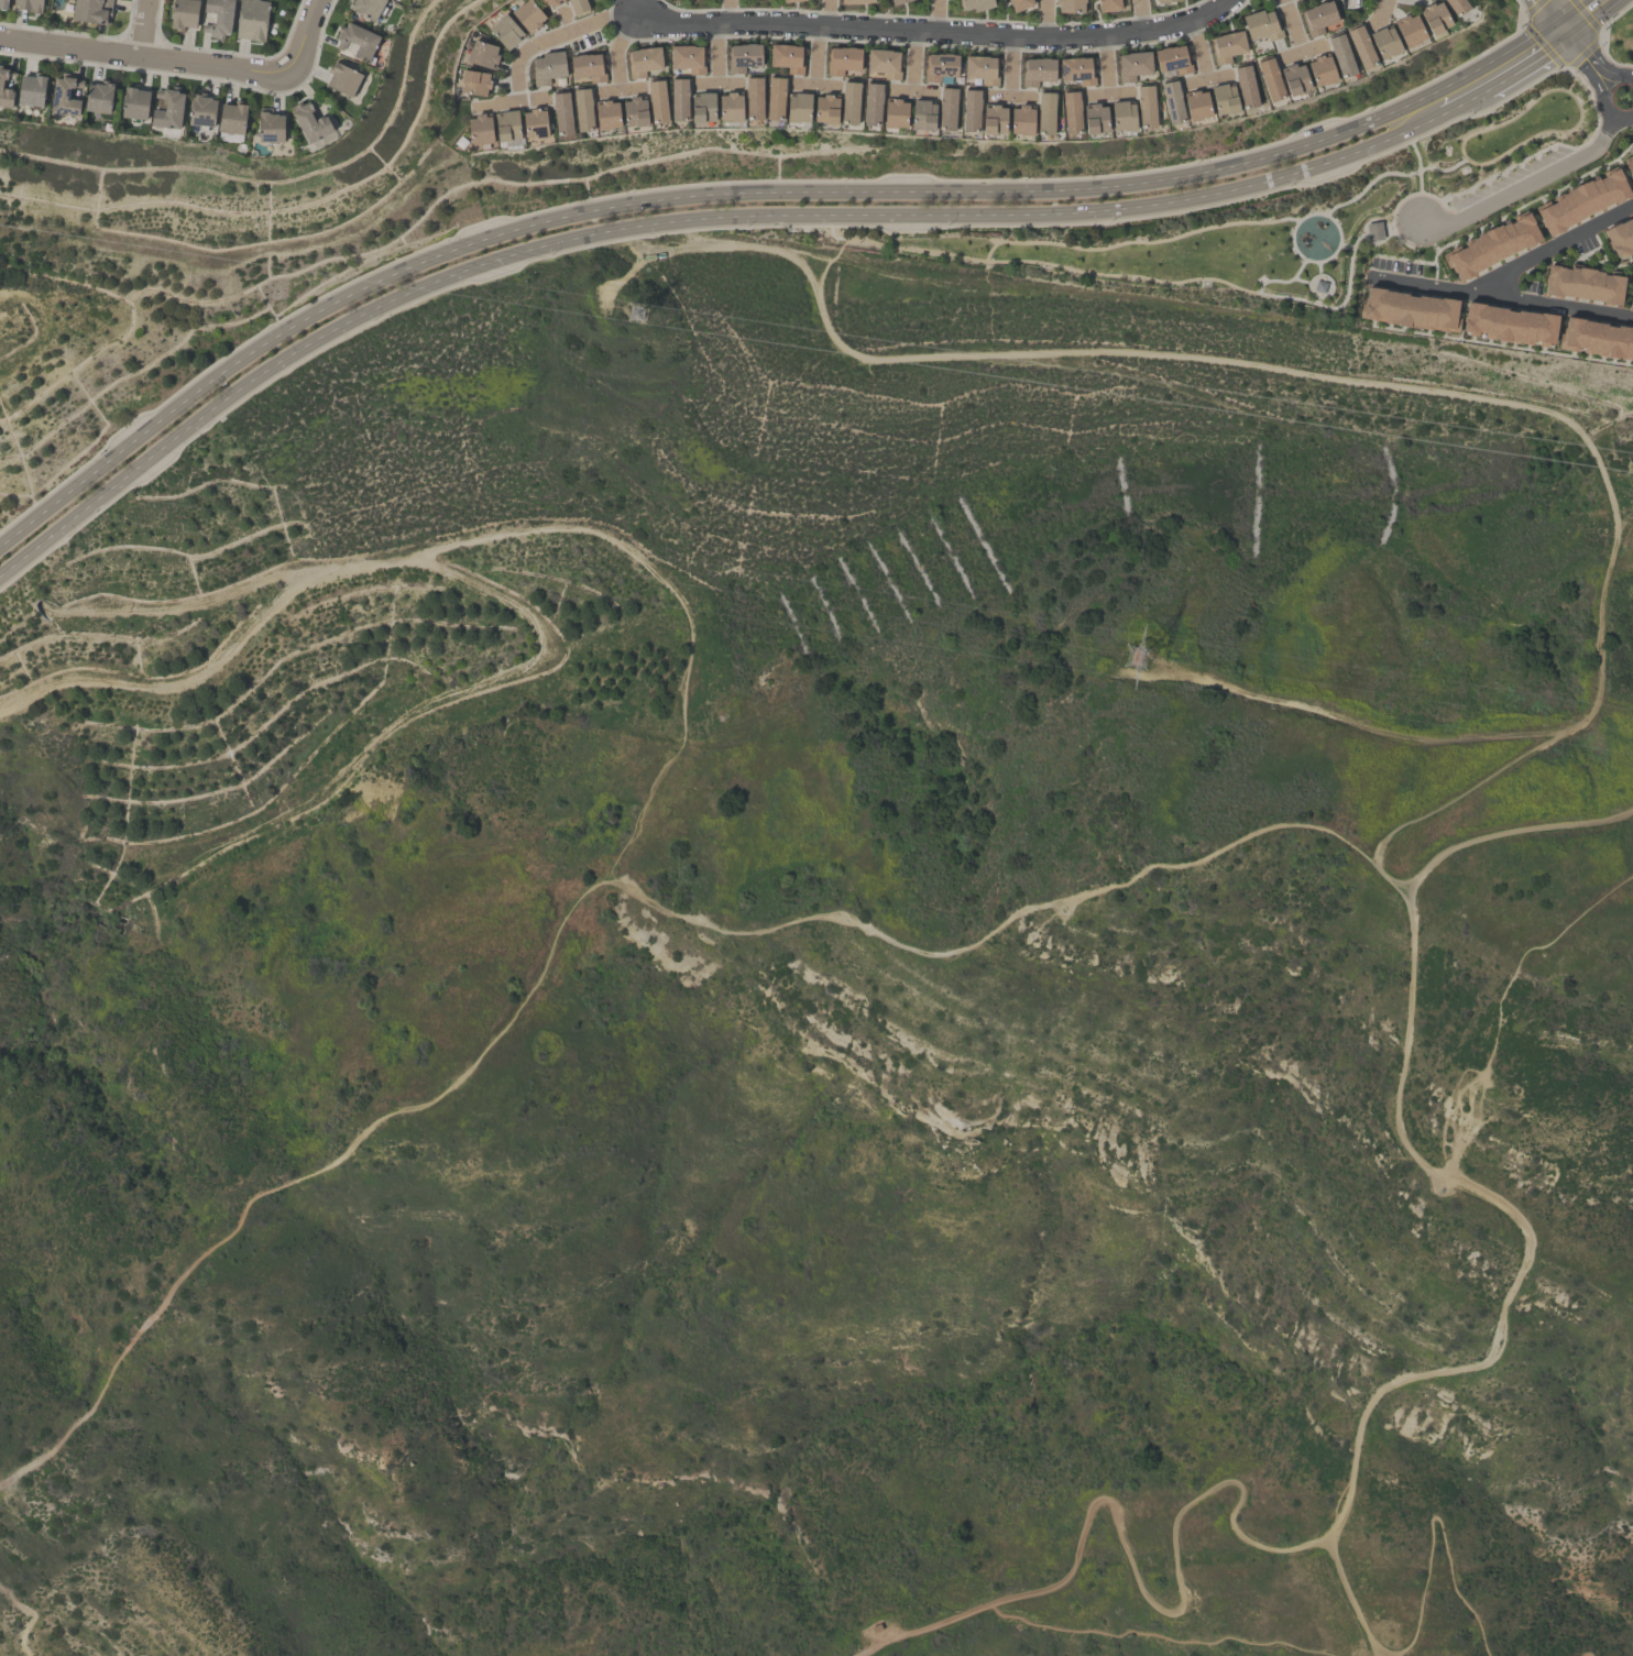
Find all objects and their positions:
building: (790, 1)
building: (1164, 1)
building: (548, 2)
building: (856, 2)
building: (899, 2)
building: (2, 4)
building: (975, 4)
building: (1018, 4)
building: (29, 6)
building: (1070, 6)
building: (1108, 6)
building: (578, 7)
building: (1456, 7)
building: (368, 9)
road: (1381, 10)
building: (91, 11)
road: (728, 11)
road: (829, 11)
building: (184, 14)
road: (935, 14)
road: (1139, 14)
road: (1549, 14)
road: (1579, 14)
building: (527, 15)
building: (219, 18)
road: (1044, 18)
building: (1318, 18)
building: (252, 20)
building: (1435, 20)
road: (311, 23)
road: (848, 24)
road: (1292, 24)
building: (1261, 25)
road: (141, 28)
building: (505, 31)
building: (1410, 31)
building: (358, 42)
building: (1385, 43)
road: (617, 46)
building: (1227, 46)
road: (1198, 48)
road: (1301, 48)
building: (1361, 48)
road: (716, 51)
building: (482, 54)
road: (816, 54)
building: (743, 56)
road: (158, 57)
building: (787, 57)
road: (913, 57)
building: (1341, 57)
road: (1583, 57)
building: (688, 58)
building: (843, 59)
building: (1172, 59)
building: (643, 61)
road: (1106, 62)
building: (885, 63)
road: (1011, 63)
road: (1528, 64)
building: (1132, 65)
building: (940, 66)
building: (547, 67)
building: (588, 67)
building: (982, 69)
building: (1076, 70)
building: (1037, 72)
building: (1322, 72)
road: (1206, 76)
road: (1619, 77)
building: (1294, 79)
building: (343, 80)
road: (719, 80)
building: (1270, 80)
building: (474, 81)
road: (815, 85)
road: (620, 87)
road: (912, 87)
building: (1246, 87)
building: (6, 90)
road: (1108, 90)
building: (32, 91)
road: (1009, 92)
road: (511, 97)
building: (65, 98)
building: (99, 98)
building: (754, 99)
road: (1575, 99)
building: (679, 100)
building: (776, 100)
building: (1224, 100)
road: (1465, 101)
building: (658, 102)
building: (1172, 103)
building: (135, 105)
building: (850, 105)
building: (873, 106)
building: (1197, 106)
building: (1146, 108)
building: (703, 109)
building: (731, 109)
building: (799, 109)
building: (168, 110)
building: (583, 110)
building: (947, 110)
building: (826, 111)
road: (1607, 111)
building: (202, 112)
building: (971, 112)
building: (635, 113)
building: (1071, 113)
building: (562, 114)
building: (896, 114)
building: (1045, 114)
building: (923, 116)
building: (606, 117)
building: (1122, 118)
building: (233, 120)
building: (1095, 120)
building: (995, 121)
building: (1022, 121)
building: (311, 122)
building: (535, 124)
building: (506, 127)
building: (271, 128)
building: (480, 130)
road: (1602, 140)
building: (1629, 164)
road: (1418, 165)
parking lot: (1509, 178)
road: (1325, 179)
road: (1369, 183)
road: (747, 194)
road: (1503, 197)
building: (1579, 198)
road: (1402, 199)
road: (679, 219)
park: (1289, 220)
road: (1390, 228)
building: (1376, 231)
building: (1619, 234)
road: (1128, 242)
building: (1490, 243)
road: (1556, 244)
road: (1346, 246)
road: (1320, 261)
road: (1049, 263)
road: (1349, 274)
road: (1283, 282)
road: (1306, 282)
building: (1581, 282)
road: (1318, 283)
road: (1435, 284)
building: (1630, 292)
road: (1559, 303)
building: (1409, 307)
power tower: (627, 310)
building: (1508, 321)
building: (1596, 336)
road: (1363, 375)
power tower: (1346, 448)
road: (224, 596)
road: (681, 603)
power tower: (1131, 660)
road: (169, 680)
road: (431, 706)
road: (1361, 727)
road: (1513, 831)
road: (583, 892)
road: (1500, 1001)
road: (1342, 1510)
road: (1438, 1520)
road: (1345, 1599)
road: (23, 1616)
road: (1149, 1637)

